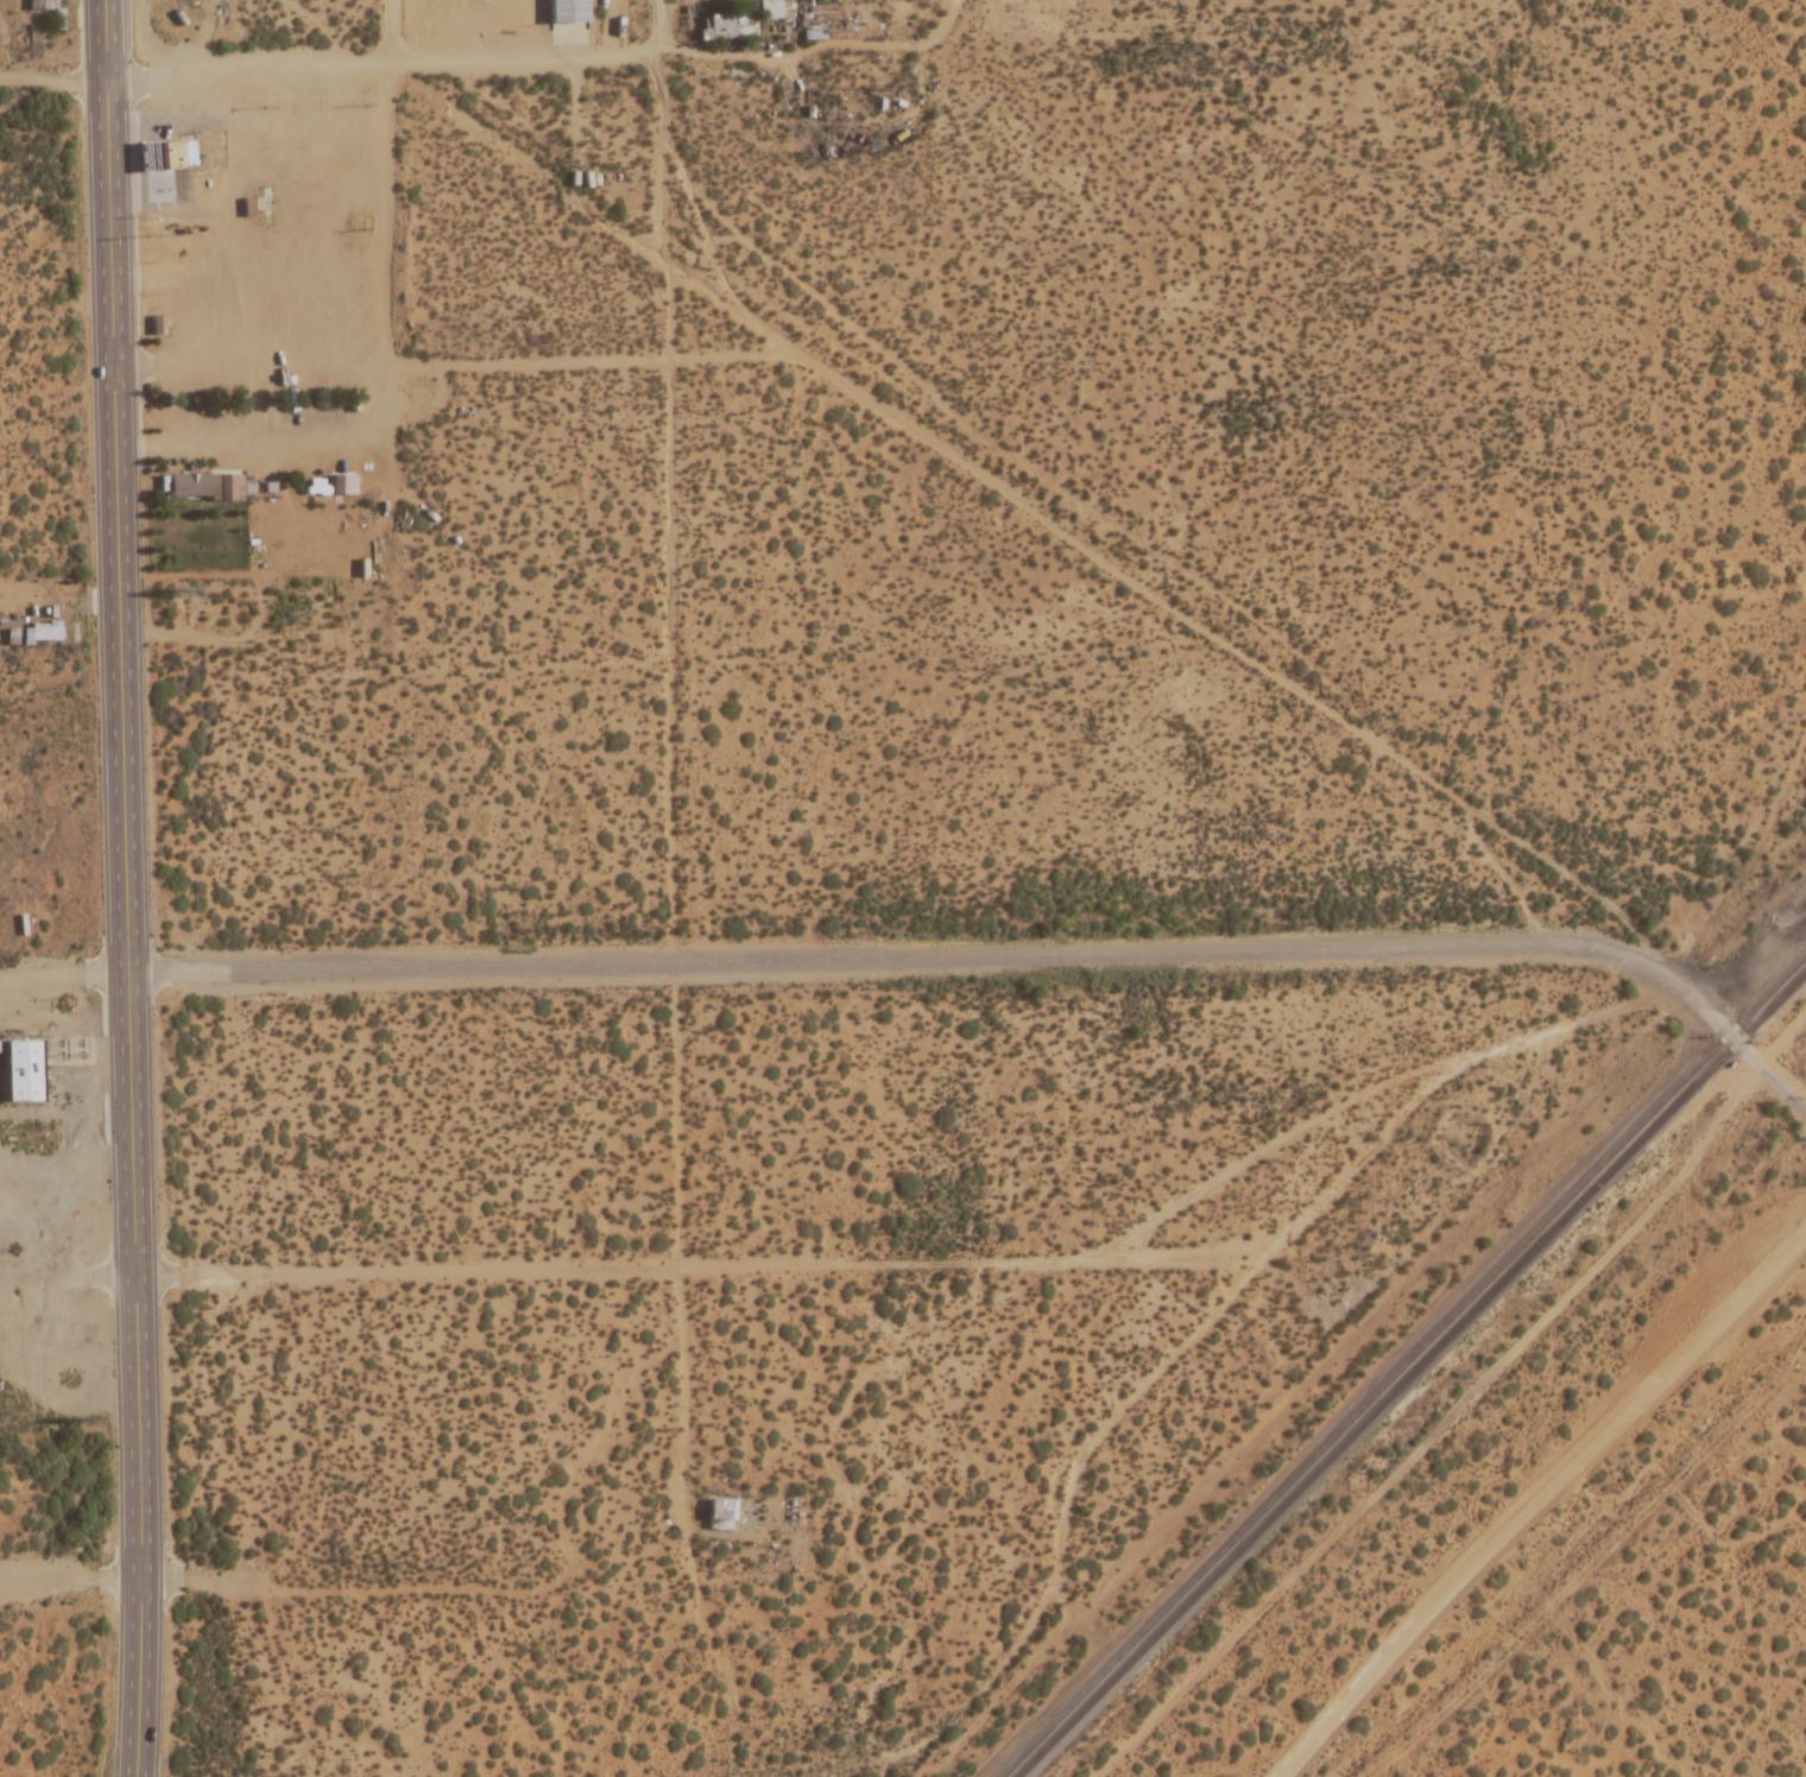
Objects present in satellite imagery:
building: (775, 10)
building: (569, 12)
road: (664, 18)
building: (731, 27)
road: (791, 55)
road: (334, 64)
building: (1666, 100)
building: (1604, 101)
building: (179, 153)
building: (152, 156)
road: (377, 178)
road: (248, 363)
building: (1551, 381)
building: (190, 485)
building: (721, 493)
building: (34, 634)
road: (120, 790)
road: (671, 797)
road: (893, 956)
building: (74, 1049)
building: (25, 1071)
road: (1448, 1073)
building: (905, 1081)
road: (1779, 1083)
building: (758, 1086)
road: (633, 1266)
railway: (1402, 1365)
building: (964, 1368)
railway: (1412, 1374)
building: (320, 1376)
building: (1078, 1419)
road: (1536, 1497)
building: (323, 1510)
building: (721, 1514)
road: (1059, 1552)
road: (235, 1586)
building: (947, 1600)
building: (431, 1656)
road: (139, 1678)

